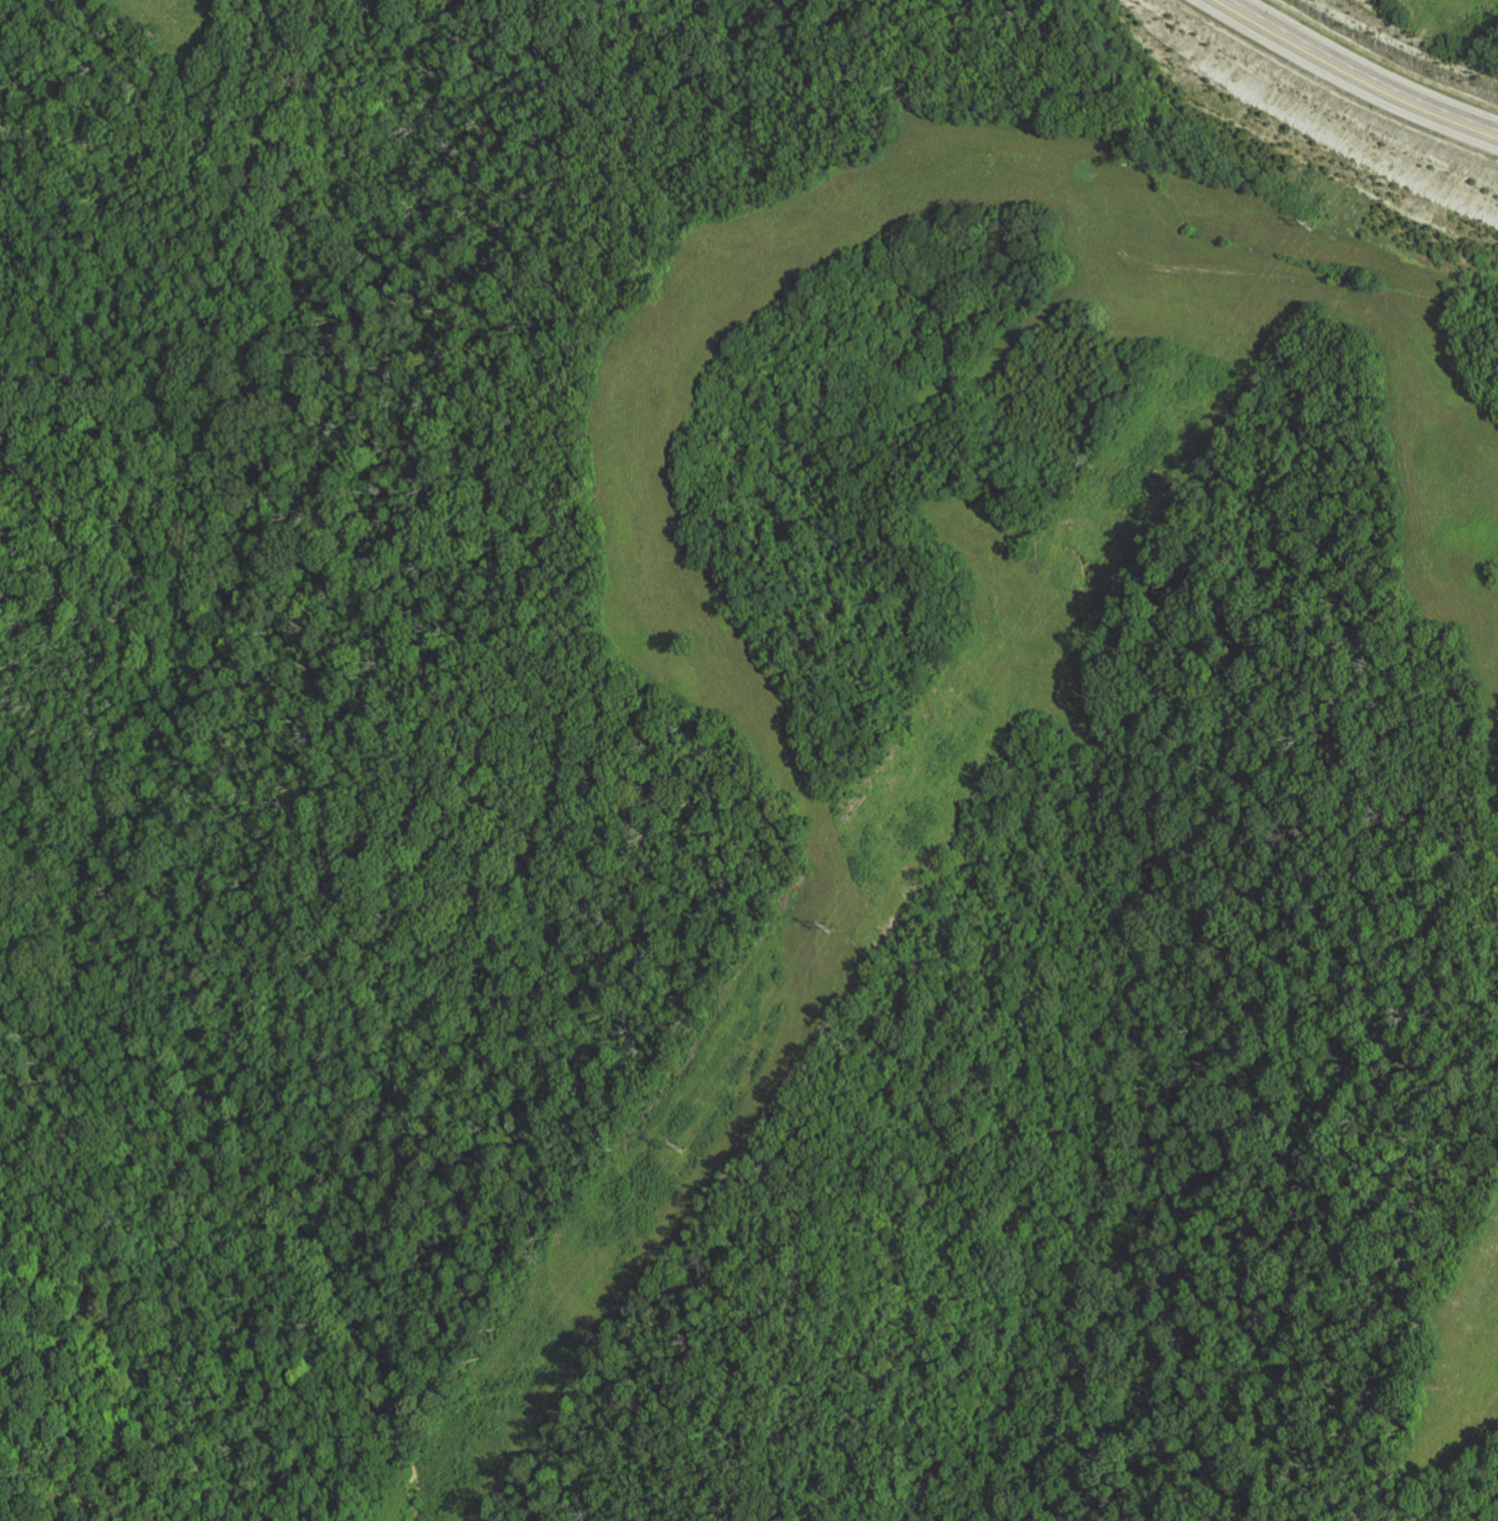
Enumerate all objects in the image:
road: (1353, 75)
road: (1296, 282)
power tower: (830, 927)

